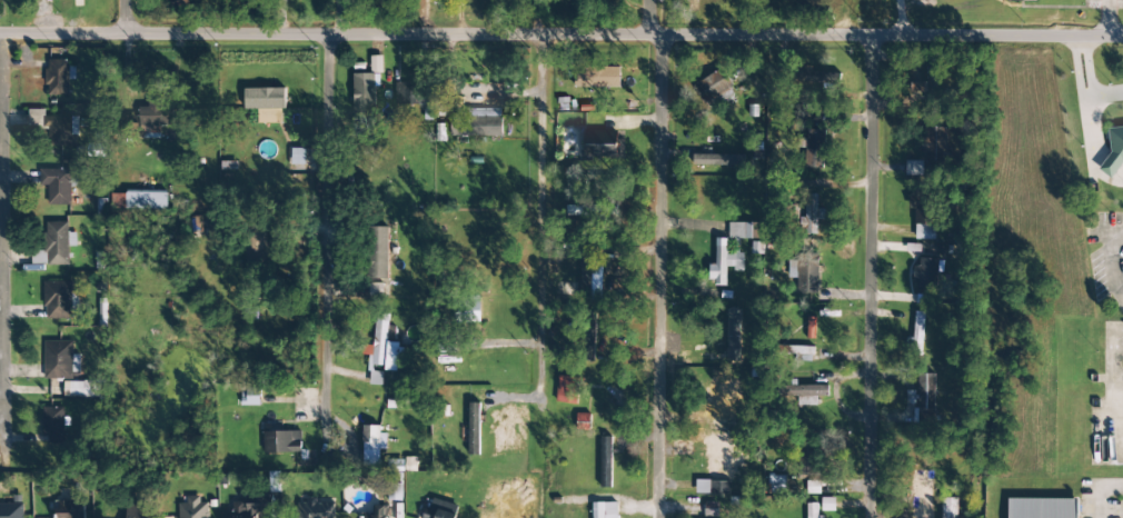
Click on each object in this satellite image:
building: (1021, 0)
building: (177, 2)
building: (692, 6)
road: (122, 17)
road: (1, 33)
road: (563, 33)
building: (376, 64)
building: (827, 68)
building: (60, 77)
building: (596, 77)
building: (816, 77)
building: (917, 83)
building: (713, 86)
building: (400, 91)
building: (364, 92)
building: (415, 96)
building: (266, 103)
building: (150, 119)
building: (477, 126)
building: (62, 130)
building: (600, 143)
building: (815, 148)
building: (1114, 149)
building: (717, 160)
building: (913, 168)
building: (57, 186)
building: (146, 200)
road: (540, 216)
building: (809, 216)
building: (924, 216)
building: (743, 230)
road: (327, 240)
building: (58, 242)
road: (2, 245)
building: (257, 247)
building: (378, 252)
road: (658, 258)
building: (723, 262)
building: (807, 271)
building: (587, 272)
building: (926, 273)
road: (867, 276)
building: (58, 300)
building: (915, 336)
building: (382, 345)
building: (587, 348)
building: (799, 352)
building: (60, 360)
building: (376, 378)
building: (81, 388)
building: (567, 389)
building: (927, 392)
building: (809, 395)
building: (250, 396)
building: (723, 396)
building: (53, 425)
building: (474, 429)
building: (281, 441)
building: (372, 445)
building: (805, 459)
building: (605, 462)
building: (717, 467)
building: (395, 491)
building: (249, 507)
building: (192, 508)
building: (317, 508)
building: (948, 508)
building: (1042, 508)
building: (440, 509)
building: (11, 510)
building: (69, 510)
building: (603, 510)
building: (710, 510)
building: (812, 510)
building: (136, 511)
building: (374, 511)

